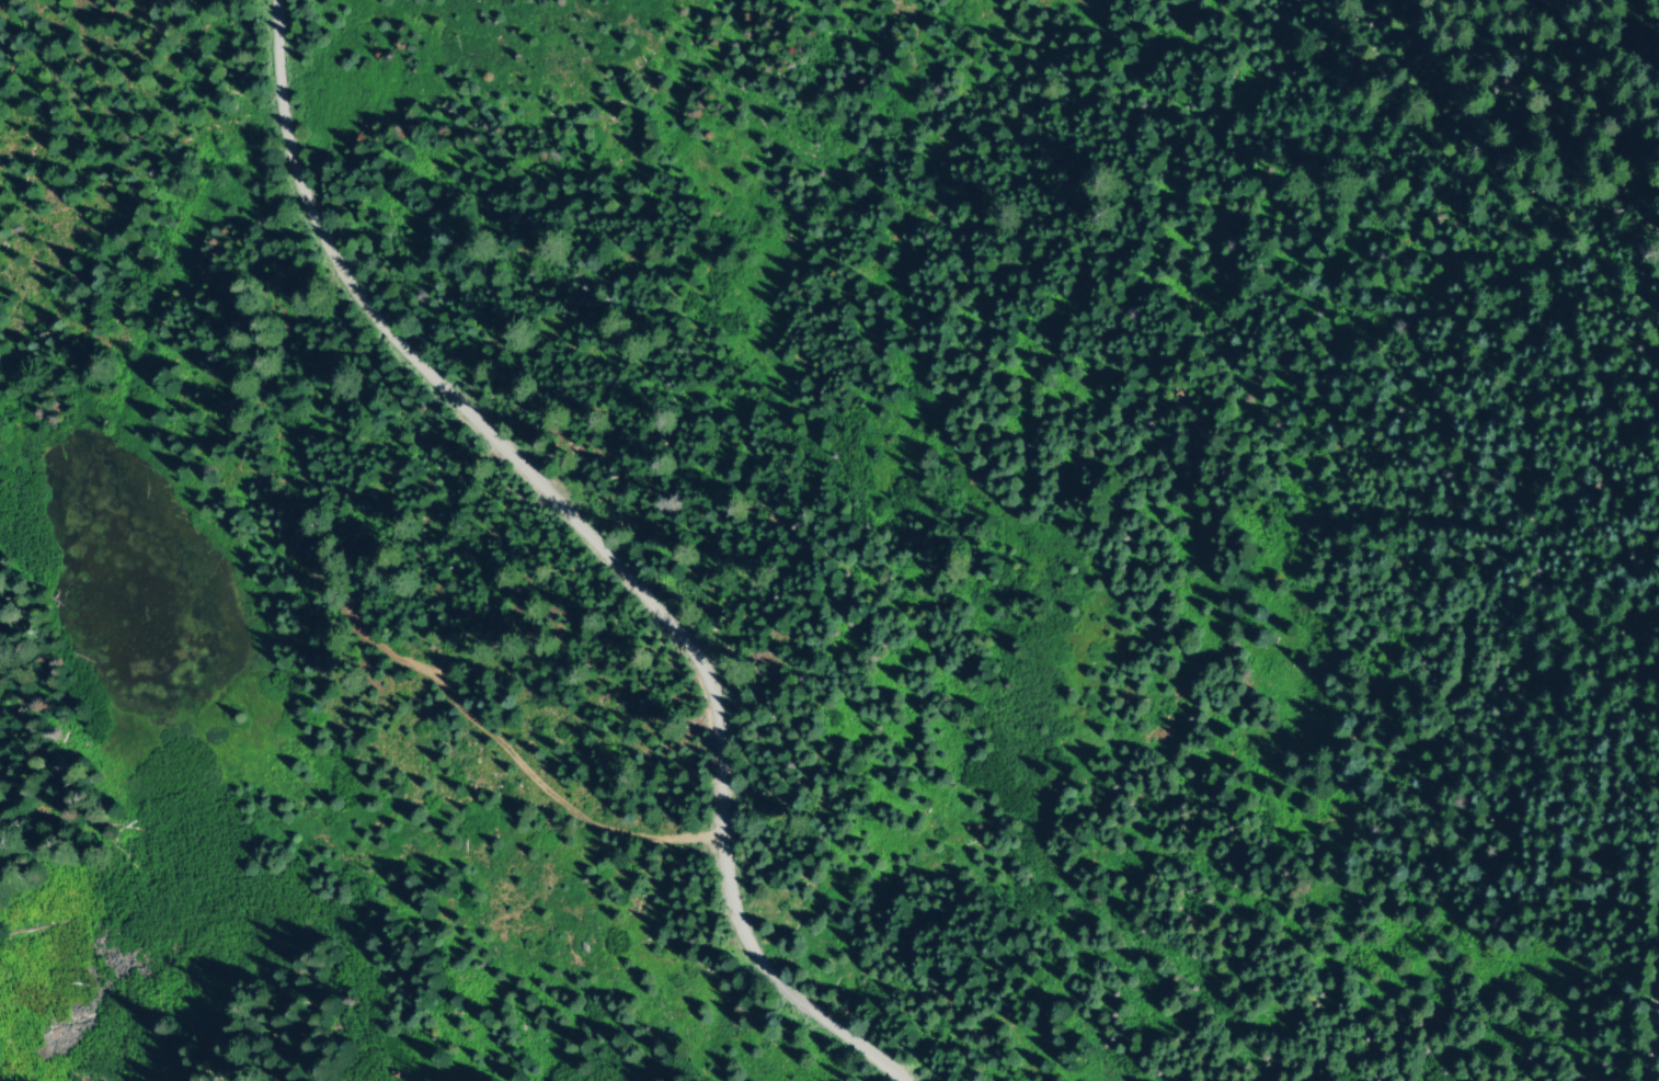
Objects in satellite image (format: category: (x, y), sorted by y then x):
road: (591, 544)
road: (510, 759)
road: (1649, 994)

